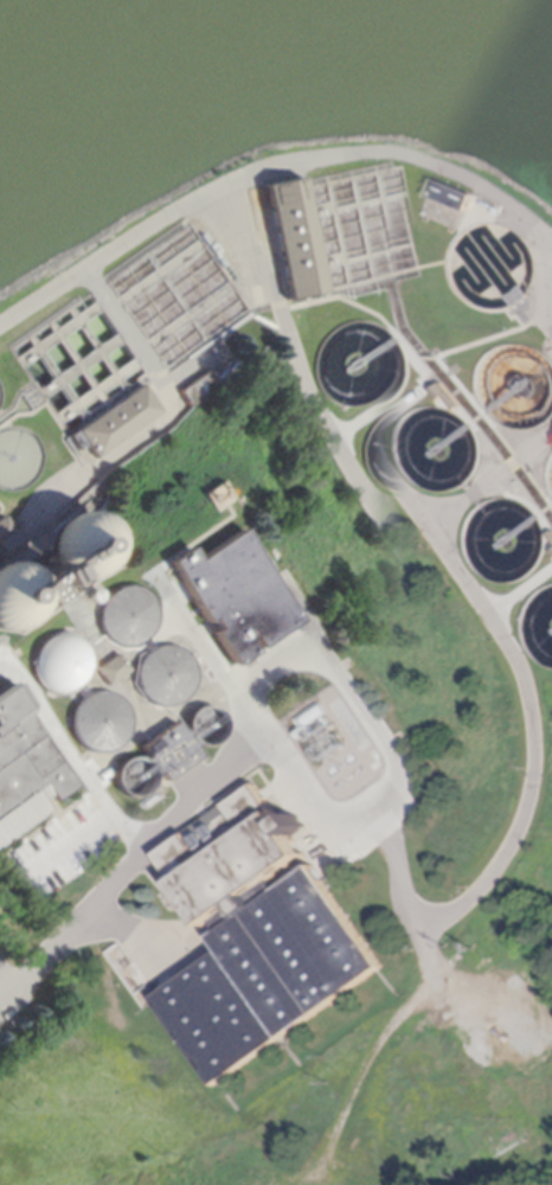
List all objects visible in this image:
river: (271, 30)
road: (265, 165)
road: (345, 174)
building: (452, 196)
road: (367, 200)
road: (319, 206)
road: (384, 220)
road: (310, 224)
road: (360, 226)
road: (336, 231)
building: (293, 238)
road: (253, 239)
road: (379, 251)
road: (329, 256)
road: (436, 264)
road: (159, 271)
road: (449, 275)
road: (374, 277)
road: (547, 289)
road: (327, 294)
road: (102, 302)
road: (278, 303)
road: (190, 314)
road: (386, 322)
road: (57, 334)
road: (124, 334)
road: (131, 337)
road: (490, 337)
road: (97, 347)
road: (142, 359)
road: (424, 359)
road: (77, 363)
road: (79, 365)
road: (58, 377)
road: (448, 377)
building: (489, 382)
building: (200, 387)
road: (98, 390)
building: (437, 396)
road: (474, 412)
road: (380, 414)
road: (466, 417)
building: (118, 419)
road: (458, 423)
road: (528, 442)
road: (6, 456)
road: (502, 459)
road: (498, 463)
road: (449, 494)
road: (538, 504)
road: (531, 508)
road: (522, 514)
road: (544, 515)
road: (546, 531)
road: (537, 543)
road: (551, 544)
building: (81, 545)
storage tank: (81, 545)
building: (543, 545)
building: (33, 558)
road: (505, 590)
building: (19, 595)
storage tank: (19, 595)
building: (235, 595)
building: (126, 615)
storage tank: (126, 615)
road: (473, 619)
building: (147, 646)
building: (60, 662)
storage tank: (60, 662)
building: (113, 668)
building: (166, 675)
storage tank: (166, 675)
wastewater plant: (280, 681)
building: (81, 692)
building: (102, 720)
storage tank: (102, 720)
building: (309, 720)
building: (207, 725)
storage tank: (207, 725)
power substation: (330, 736)
power tower: (336, 744)
building: (172, 751)
road: (72, 752)
power tower: (325, 752)
building: (25, 768)
building: (136, 776)
storage tank: (136, 776)
road: (345, 821)
road: (70, 840)
building: (232, 854)
road: (133, 864)
parking lot: (5, 966)
building: (271, 975)
road: (8, 979)

